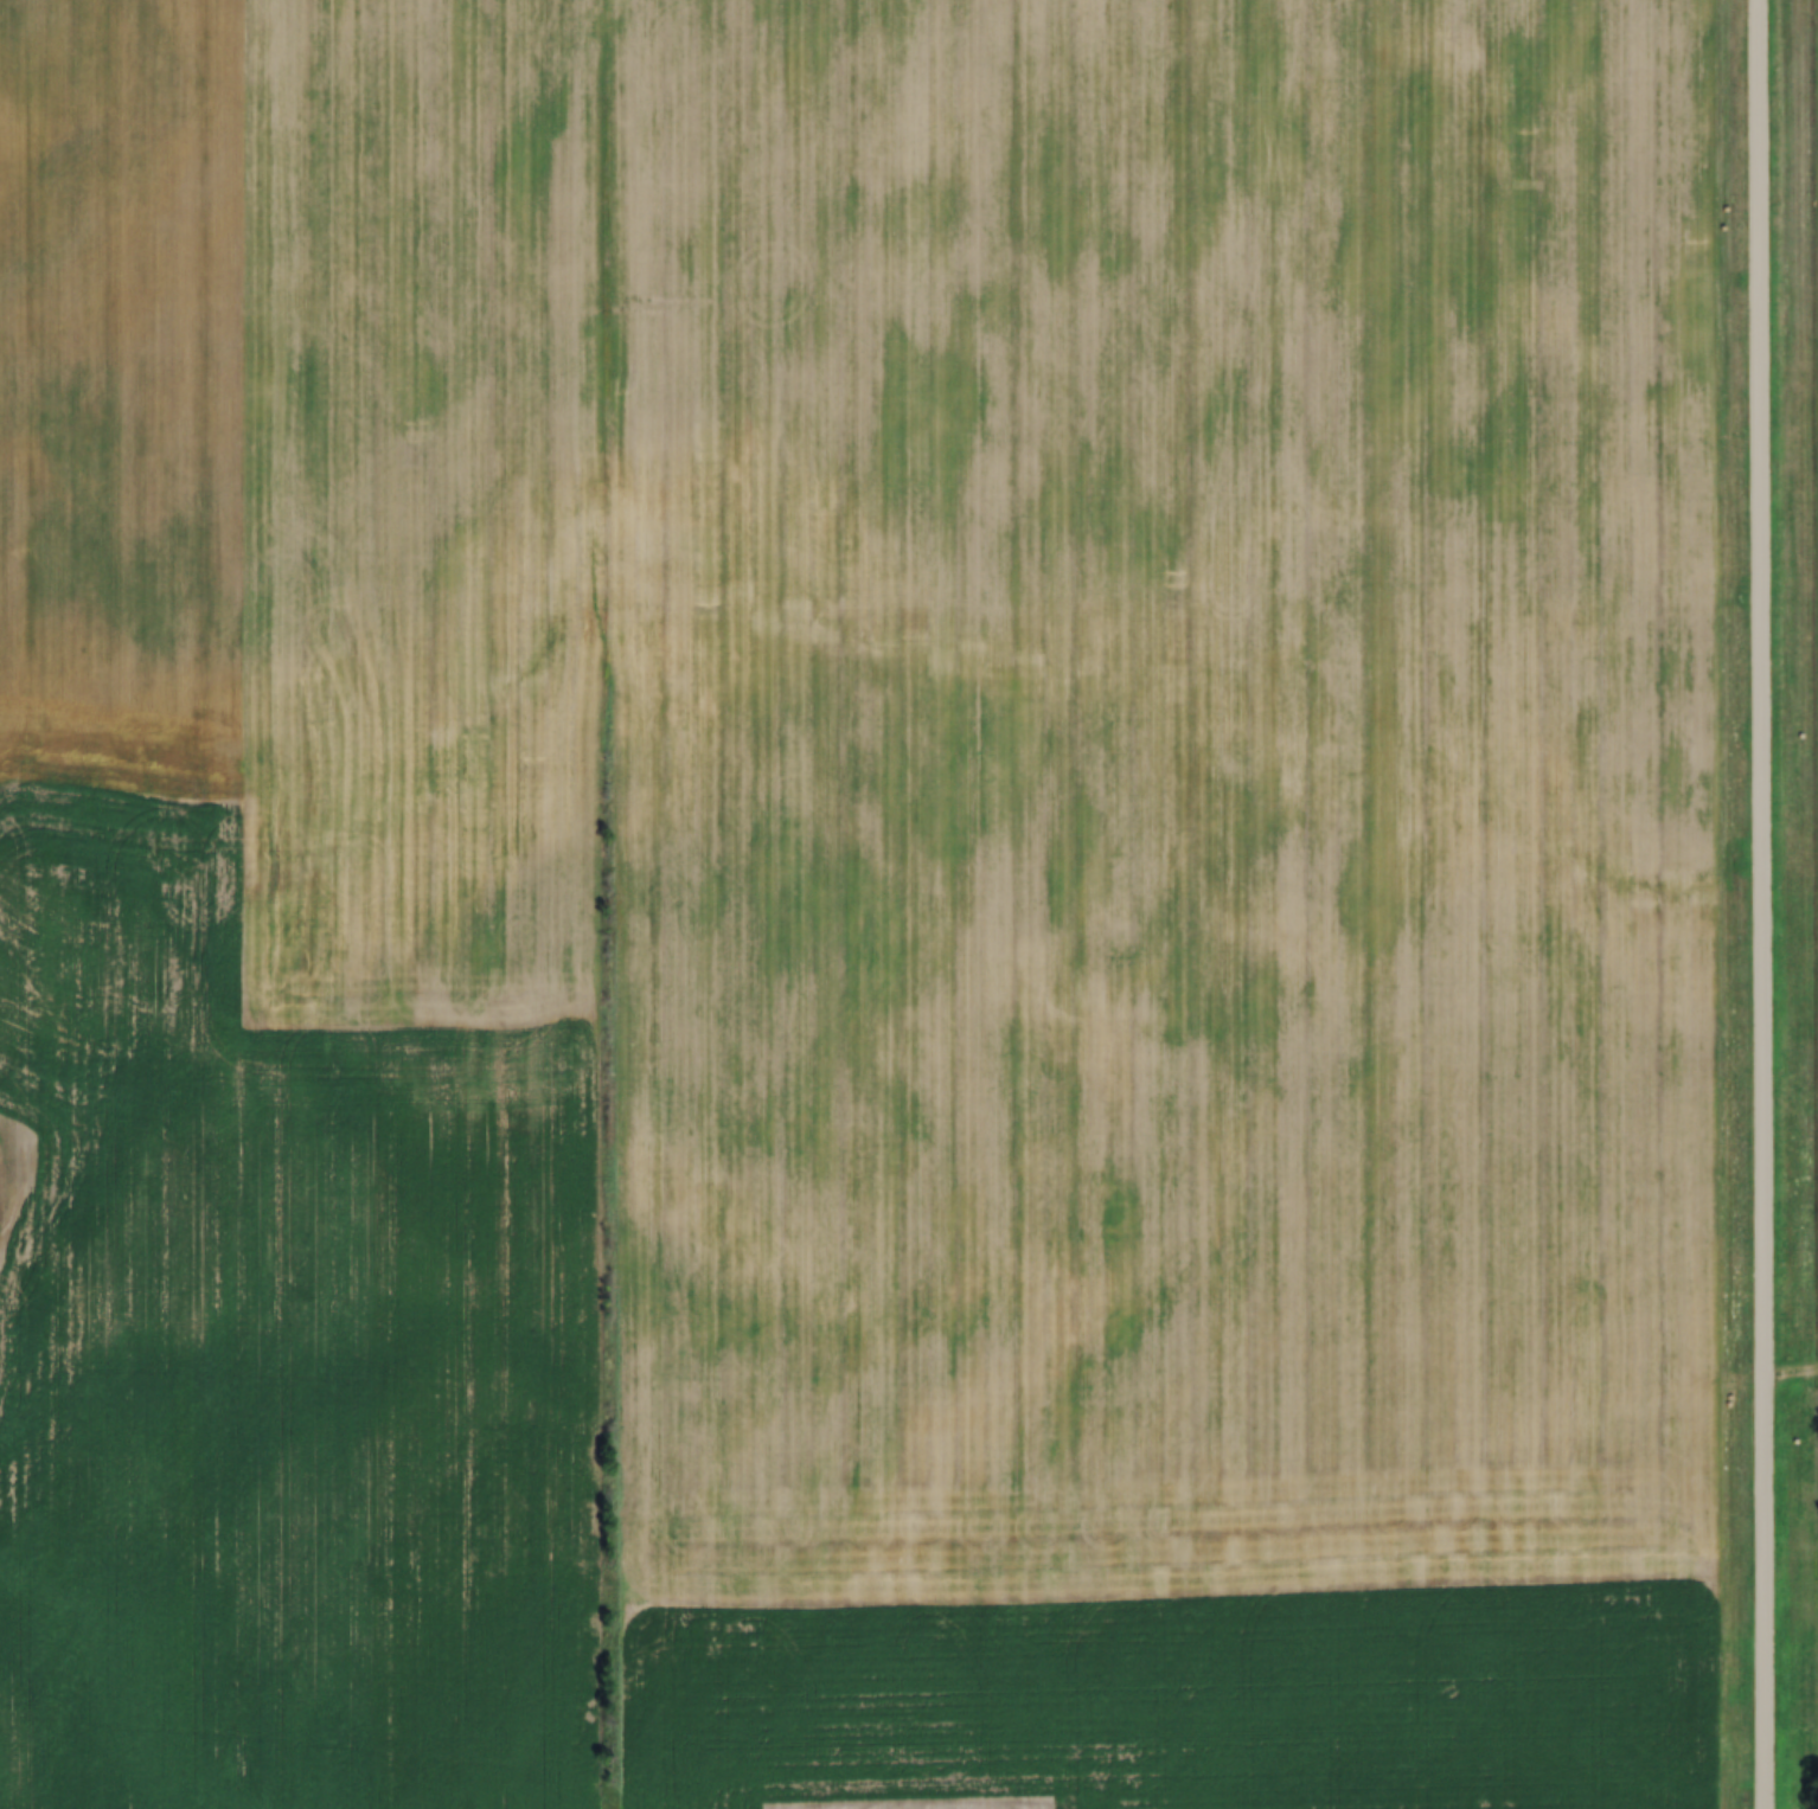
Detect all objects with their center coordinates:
road: (1772, 904)

